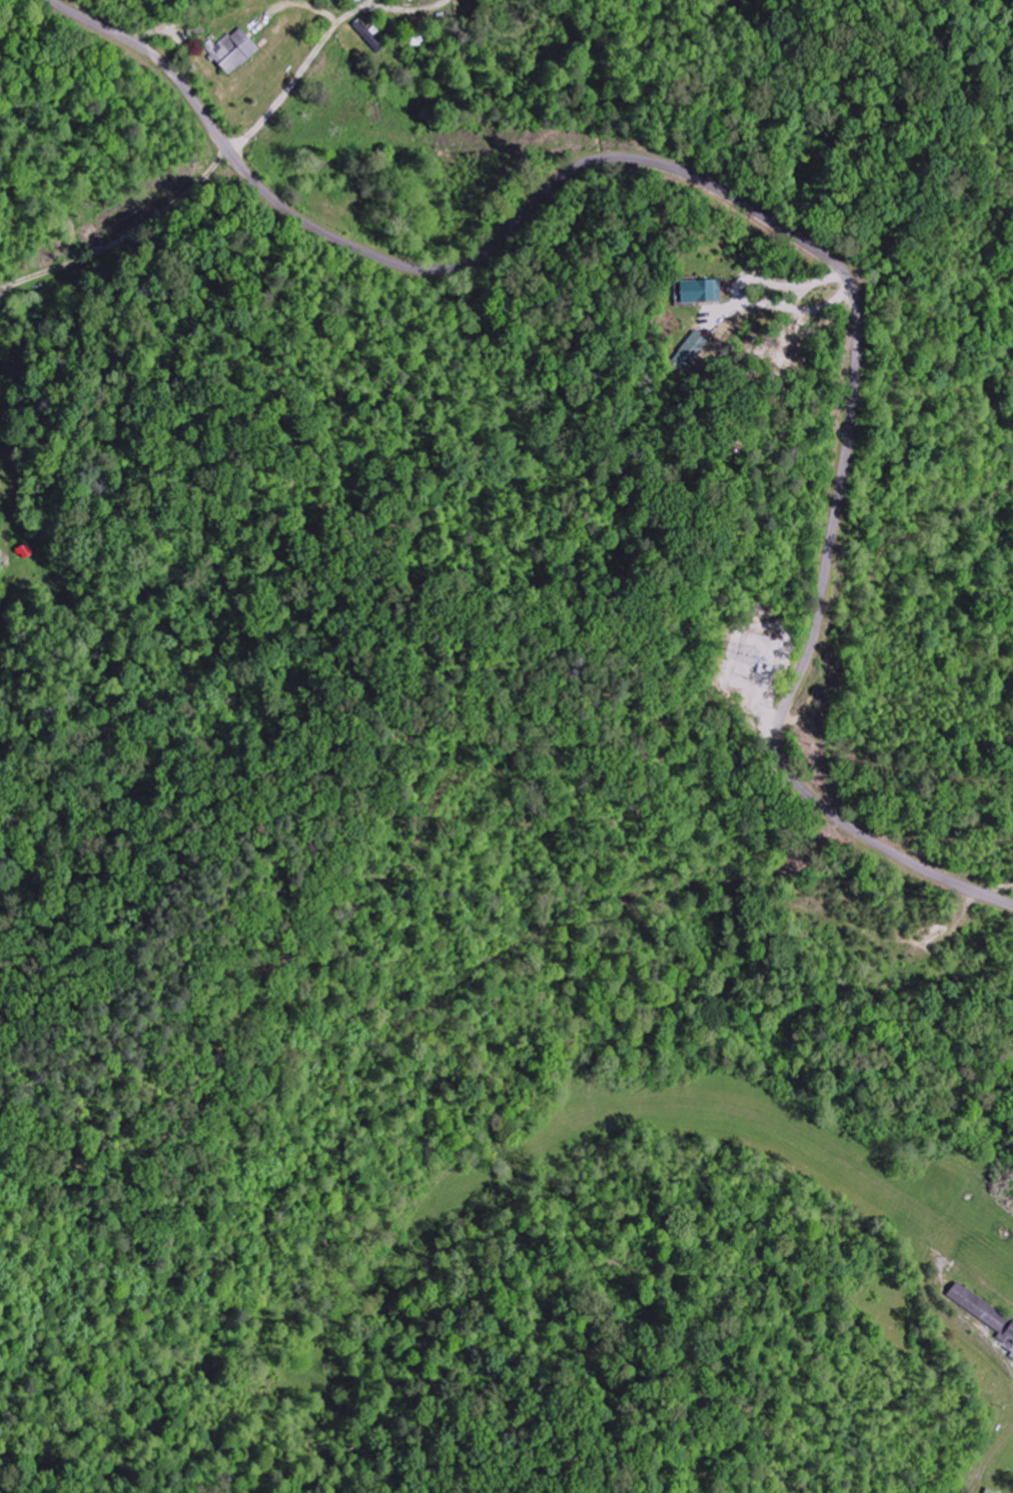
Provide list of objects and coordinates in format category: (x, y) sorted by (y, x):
building: (234, 50)
road: (207, 173)
road: (774, 221)
building: (700, 291)
road: (82, 333)
building: (690, 350)
building: (1004, 1332)
building: (990, 1491)

